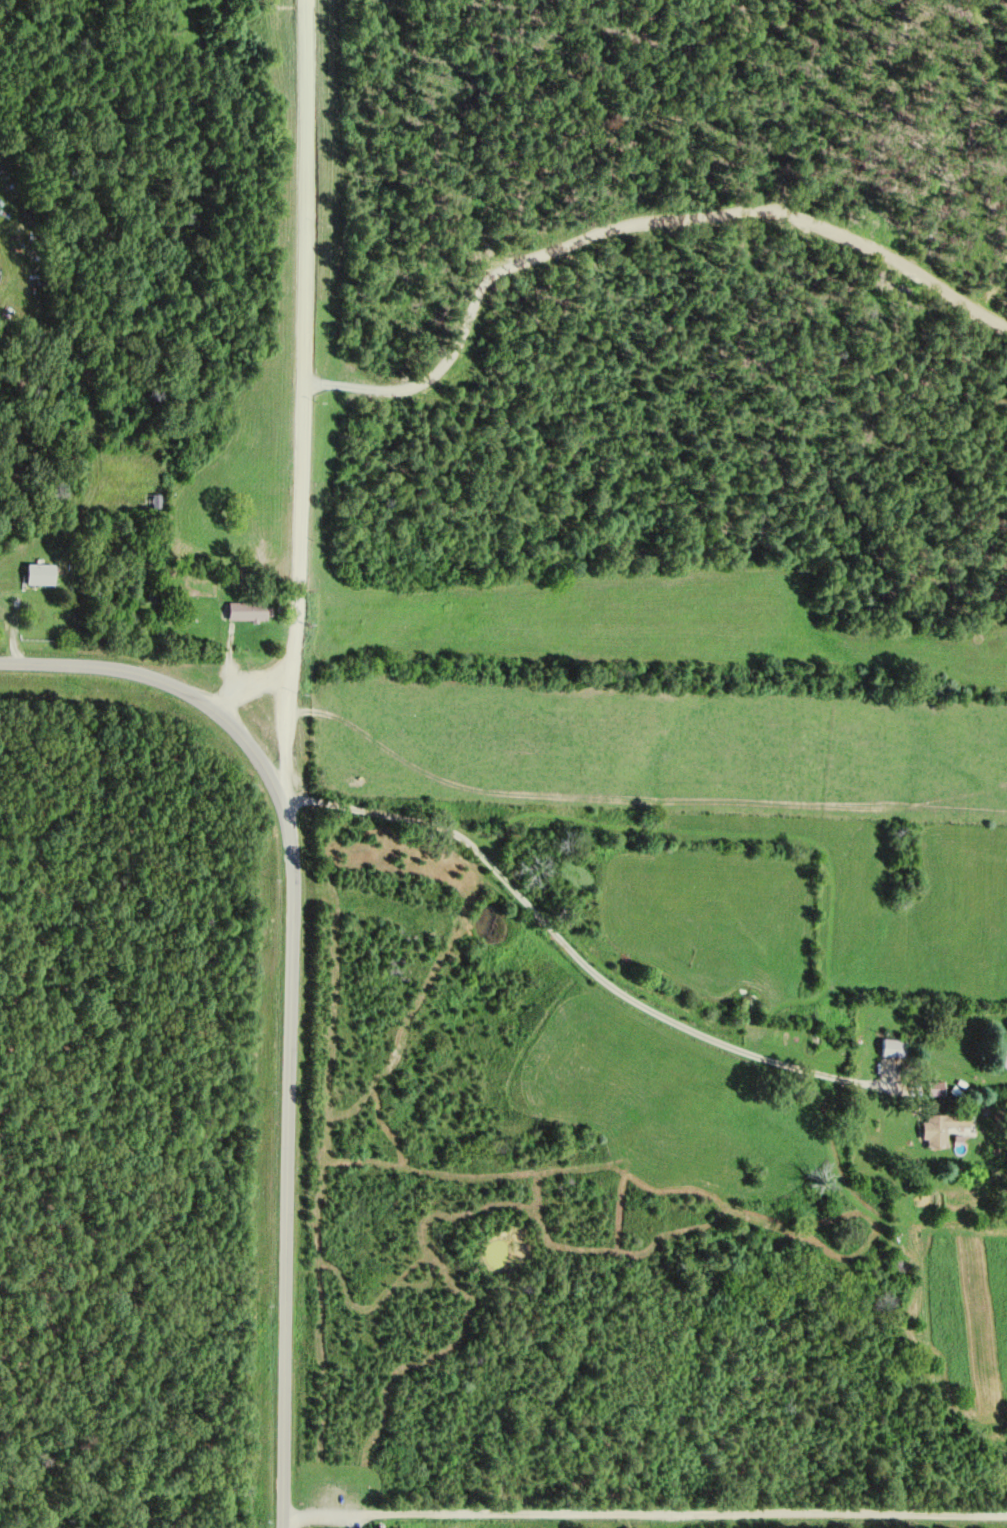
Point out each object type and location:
road: (301, 400)
building: (49, 574)
building: (254, 611)
road: (163, 686)
road: (580, 966)
building: (894, 1047)
building: (1004, 1048)
building: (938, 1088)
building: (943, 1127)
road: (288, 1163)
road: (639, 1523)

